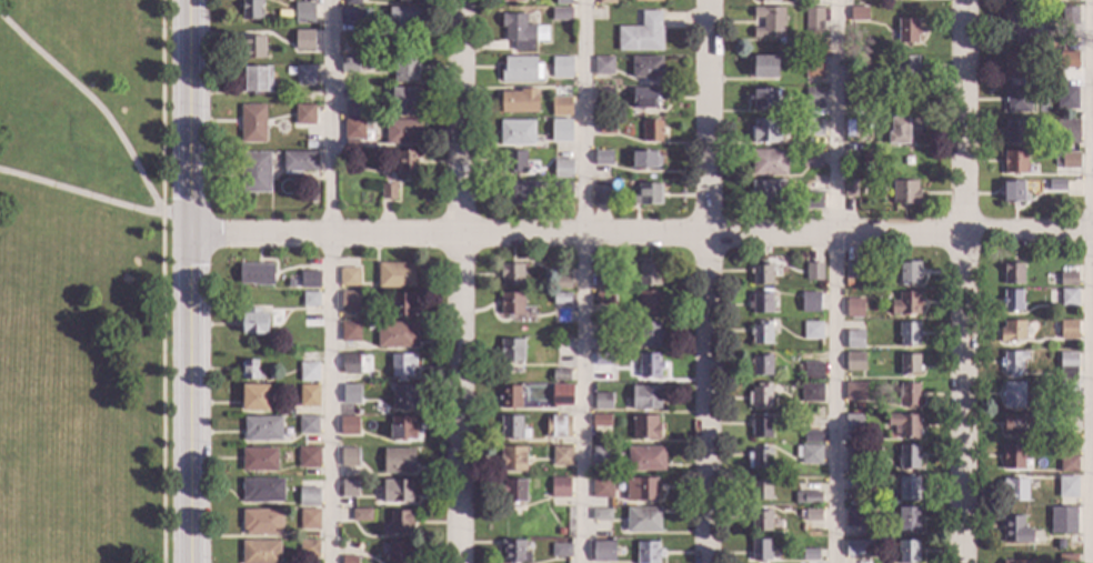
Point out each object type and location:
building: (407, 0)
building: (765, 0)
building: (1064, 0)
building: (512, 1)
building: (648, 1)
building: (352, 2)
building: (563, 2)
building: (606, 2)
building: (250, 9)
building: (303, 13)
building: (367, 14)
building: (561, 14)
building: (859, 14)
building: (350, 17)
building: (1069, 17)
building: (403, 18)
building: (813, 19)
building: (769, 23)
building: (1015, 26)
building: (521, 31)
building: (908, 31)
building: (641, 34)
building: (300, 36)
building: (253, 48)
building: (1067, 60)
building: (1019, 64)
building: (349, 66)
building: (602, 66)
building: (646, 67)
building: (906, 67)
building: (561, 68)
building: (814, 68)
building: (765, 69)
building: (404, 70)
building: (521, 70)
building: (290, 71)
building: (854, 74)
building: (305, 76)
building: (255, 80)
building: (603, 94)
building: (645, 98)
building: (813, 98)
building: (854, 98)
building: (1067, 98)
building: (762, 99)
building: (1017, 99)
building: (404, 101)
building: (519, 101)
building: (560, 107)
building: (353, 109)
building: (618, 111)
building: (874, 111)
building: (593, 113)
building: (303, 115)
building: (252, 123)
building: (1049, 124)
building: (606, 127)
building: (814, 128)
building: (853, 128)
building: (353, 129)
building: (561, 131)
building: (651, 131)
building: (765, 131)
building: (1014, 131)
building: (1066, 131)
building: (402, 132)
building: (902, 132)
building: (517, 133)
building: (313, 137)
building: (603, 158)
building: (811, 158)
building: (645, 160)
building: (1066, 160)
building: (866, 161)
building: (297, 162)
building: (513, 162)
building: (769, 162)
building: (1015, 163)
building: (405, 164)
building: (881, 168)
building: (562, 169)
building: (254, 172)
road: (141, 175)
building: (1056, 185)
building: (849, 189)
building: (388, 192)
building: (562, 192)
building: (766, 192)
building: (904, 192)
building: (1013, 192)
building: (519, 193)
building: (601, 195)
building: (648, 195)
building: (810, 200)
road: (177, 213)
road: (642, 235)
building: (852, 270)
building: (813, 271)
building: (909, 272)
building: (255, 274)
building: (648, 274)
building: (762, 274)
building: (1013, 274)
building: (394, 275)
building: (511, 275)
building: (349, 278)
building: (310, 280)
building: (1069, 280)
park: (83, 281)
road: (192, 281)
road: (330, 281)
road: (462, 281)
road: (584, 281)
building: (603, 281)
road: (708, 281)
road: (833, 281)
road: (966, 281)
road: (1087, 281)
building: (561, 282)
building: (848, 283)
building: (290, 284)
building: (603, 298)
building: (1069, 298)
building: (561, 299)
building: (310, 300)
building: (1013, 301)
building: (761, 302)
building: (810, 302)
building: (350, 303)
building: (649, 303)
building: (402, 304)
building: (511, 304)
building: (905, 304)
building: (854, 308)
building: (253, 322)
building: (1069, 330)
building: (812, 331)
building: (1012, 331)
building: (349, 333)
building: (761, 333)
building: (909, 333)
building: (649, 334)
building: (397, 335)
park: (34, 340)
building: (854, 340)
building: (603, 343)
building: (511, 350)
building: (603, 359)
building: (854, 362)
building: (1013, 362)
building: (350, 364)
building: (401, 365)
building: (650, 365)
building: (761, 365)
building: (909, 365)
building: (1067, 366)
building: (250, 371)
building: (812, 372)
building: (308, 375)
building: (560, 375)
building: (350, 392)
building: (854, 392)
building: (1069, 392)
building: (811, 393)
building: (561, 395)
building: (761, 395)
building: (909, 395)
building: (1013, 395)
building: (308, 396)
building: (254, 398)
building: (404, 398)
building: (510, 398)
building: (645, 398)
building: (602, 401)
building: (601, 421)
building: (308, 424)
building: (853, 424)
building: (1016, 424)
building: (349, 425)
building: (904, 425)
building: (556, 426)
building: (512, 428)
building: (645, 428)
building: (761, 428)
building: (262, 429)
building: (403, 429)
building: (811, 436)
building: (1055, 439)
building: (809, 454)
building: (601, 455)
building: (852, 455)
building: (561, 456)
building: (308, 458)
building: (349, 458)
building: (909, 458)
building: (1013, 458)
building: (512, 459)
building: (645, 459)
building: (259, 460)
building: (759, 460)
building: (398, 461)
building: (1069, 464)
building: (599, 473)
building: (853, 483)
building: (1067, 487)
building: (349, 489)
building: (560, 489)
building: (602, 489)
building: (641, 489)
building: (761, 489)
building: (909, 489)
building: (1015, 490)
building: (261, 491)
building: (513, 491)
building: (397, 492)
building: (308, 494)
building: (808, 499)
park: (49, 504)
building: (1054, 511)
building: (600, 514)
building: (361, 515)
building: (812, 515)
building: (1066, 516)
building: (854, 517)
building: (309, 520)
building: (909, 520)
building: (642, 521)
building: (761, 521)
building: (261, 522)
building: (400, 522)
building: (1016, 531)
building: (559, 532)
building: (308, 549)
building: (856, 549)
building: (760, 550)
building: (561, 551)
building: (908, 551)
building: (260, 552)
building: (400, 552)
building: (513, 552)
building: (603, 552)
building: (648, 553)
building: (810, 555)
building: (1066, 559)
building: (349, 560)
building: (1014, 562)

